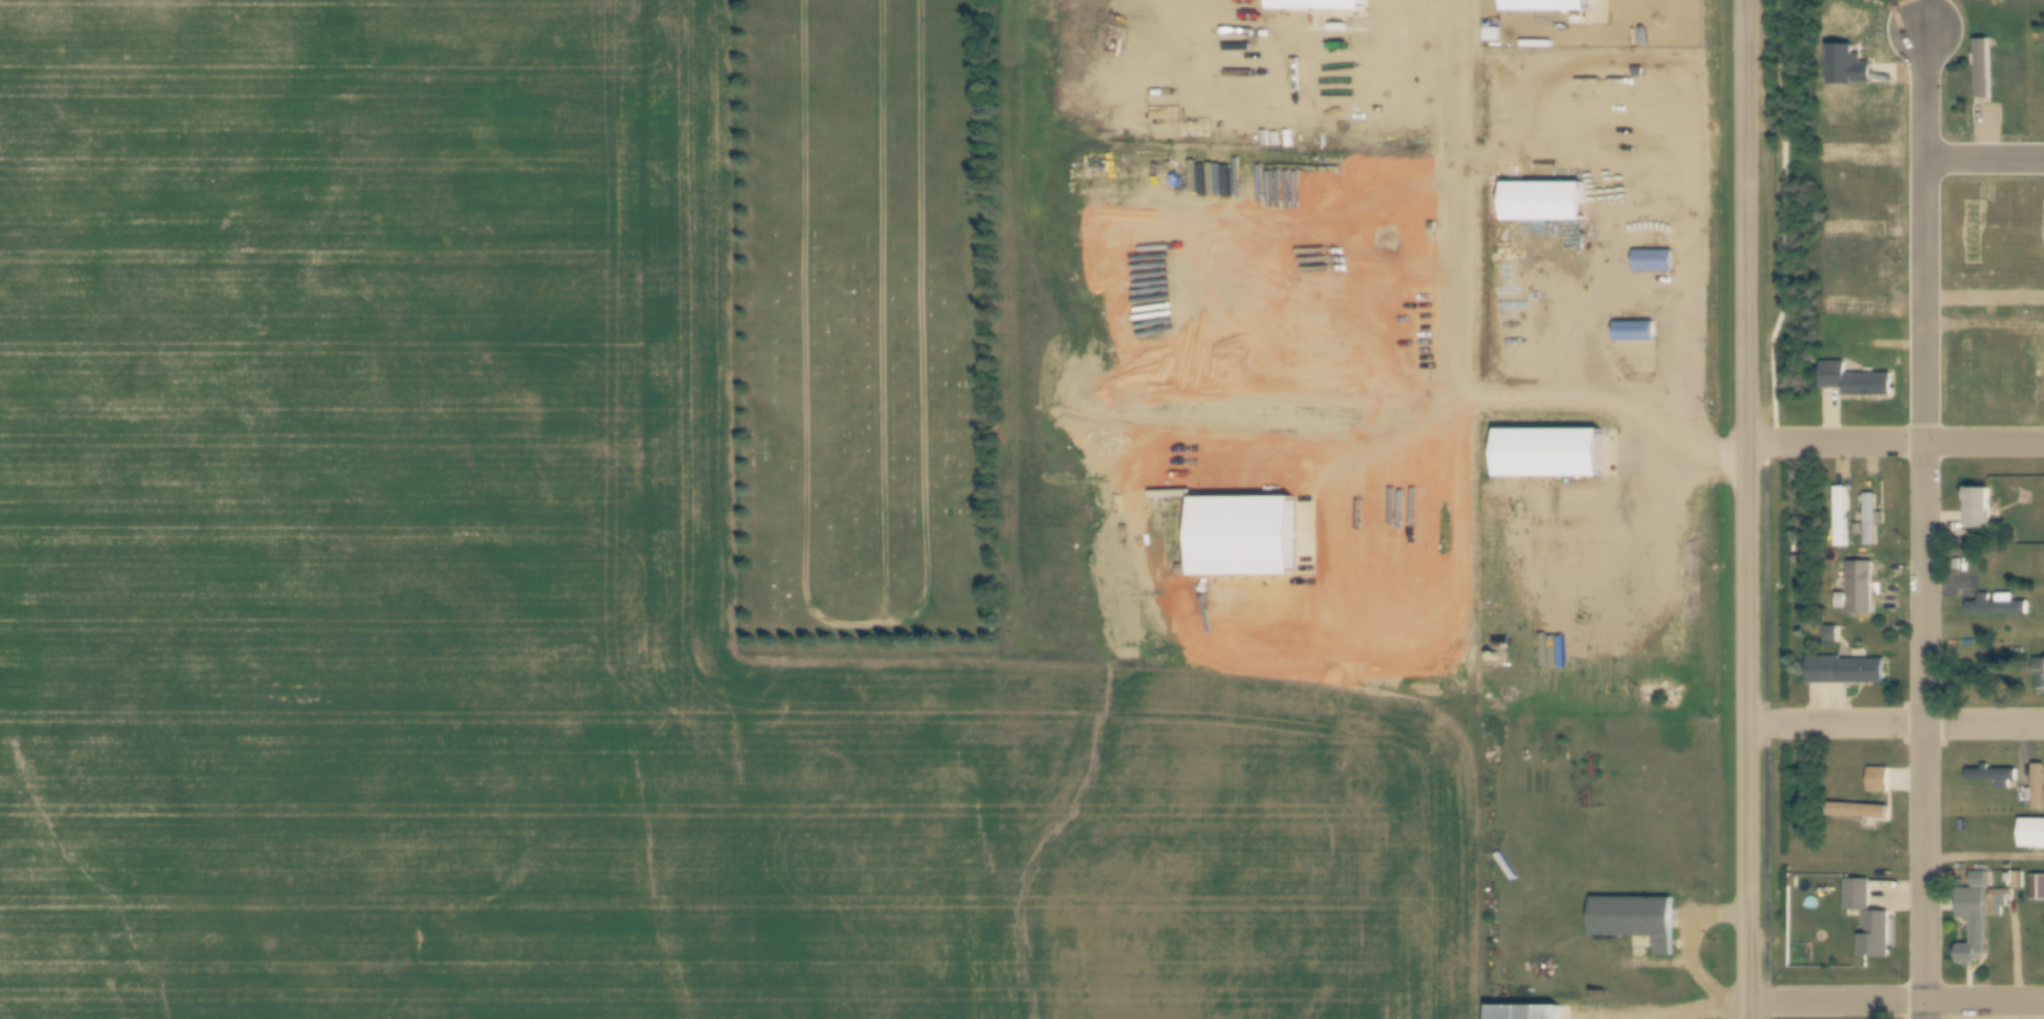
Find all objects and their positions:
building: (1313, 6)
building: (1544, 6)
building: (1853, 68)
building: (1981, 68)
building: (1988, 71)
road: (1983, 155)
building: (1542, 201)
building: (1971, 232)
road: (1922, 238)
building: (1533, 252)
building: (1568, 261)
building: (1651, 261)
road: (1983, 299)
road: (1983, 322)
building: (1634, 338)
road: (1586, 342)
building: (1878, 344)
building: (2038, 368)
building: (1965, 370)
building: (1858, 382)
road: (1894, 441)
building: (1549, 453)
road: (1745, 509)
building: (1981, 515)
building: (1838, 517)
building: (1845, 519)
building: (1868, 519)
building: (1875, 523)
building: (1241, 540)
building: (1855, 568)
building: (1864, 590)
building: (1855, 597)
building: (2002, 608)
building: (1836, 638)
building: (1850, 673)
building: (2043, 675)
building: (1648, 694)
building: (1666, 695)
road: (1895, 724)
road: (1924, 730)
building: (1998, 779)
building: (1885, 783)
building: (2040, 792)
building: (1863, 814)
building: (2035, 836)
road: (1984, 859)
building: (1985, 884)
building: (2038, 890)
building: (2008, 901)
building: (1638, 921)
building: (1874, 922)
building: (1978, 925)
road: (1689, 941)
road: (1895, 1000)
road: (1714, 1007)
building: (1530, 1013)

